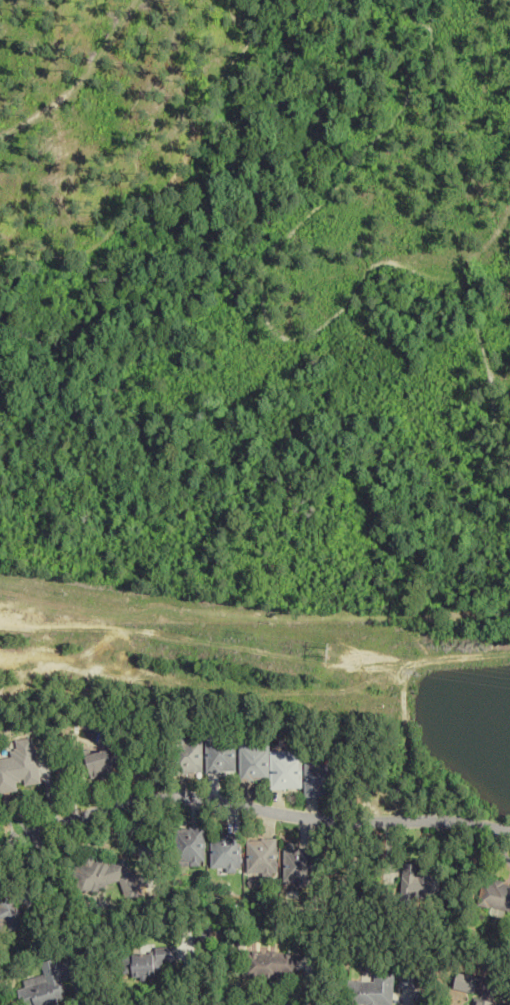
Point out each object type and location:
building: (219, 755)
building: (186, 756)
building: (101, 763)
building: (269, 765)
building: (19, 767)
building: (317, 779)
road: (250, 805)
building: (187, 847)
building: (223, 852)
building: (259, 857)
building: (295, 866)
building: (105, 877)
building: (418, 881)
building: (494, 896)
building: (8, 913)
building: (146, 962)
building: (267, 964)
building: (463, 983)
building: (42, 987)
building: (368, 990)
building: (479, 1002)

